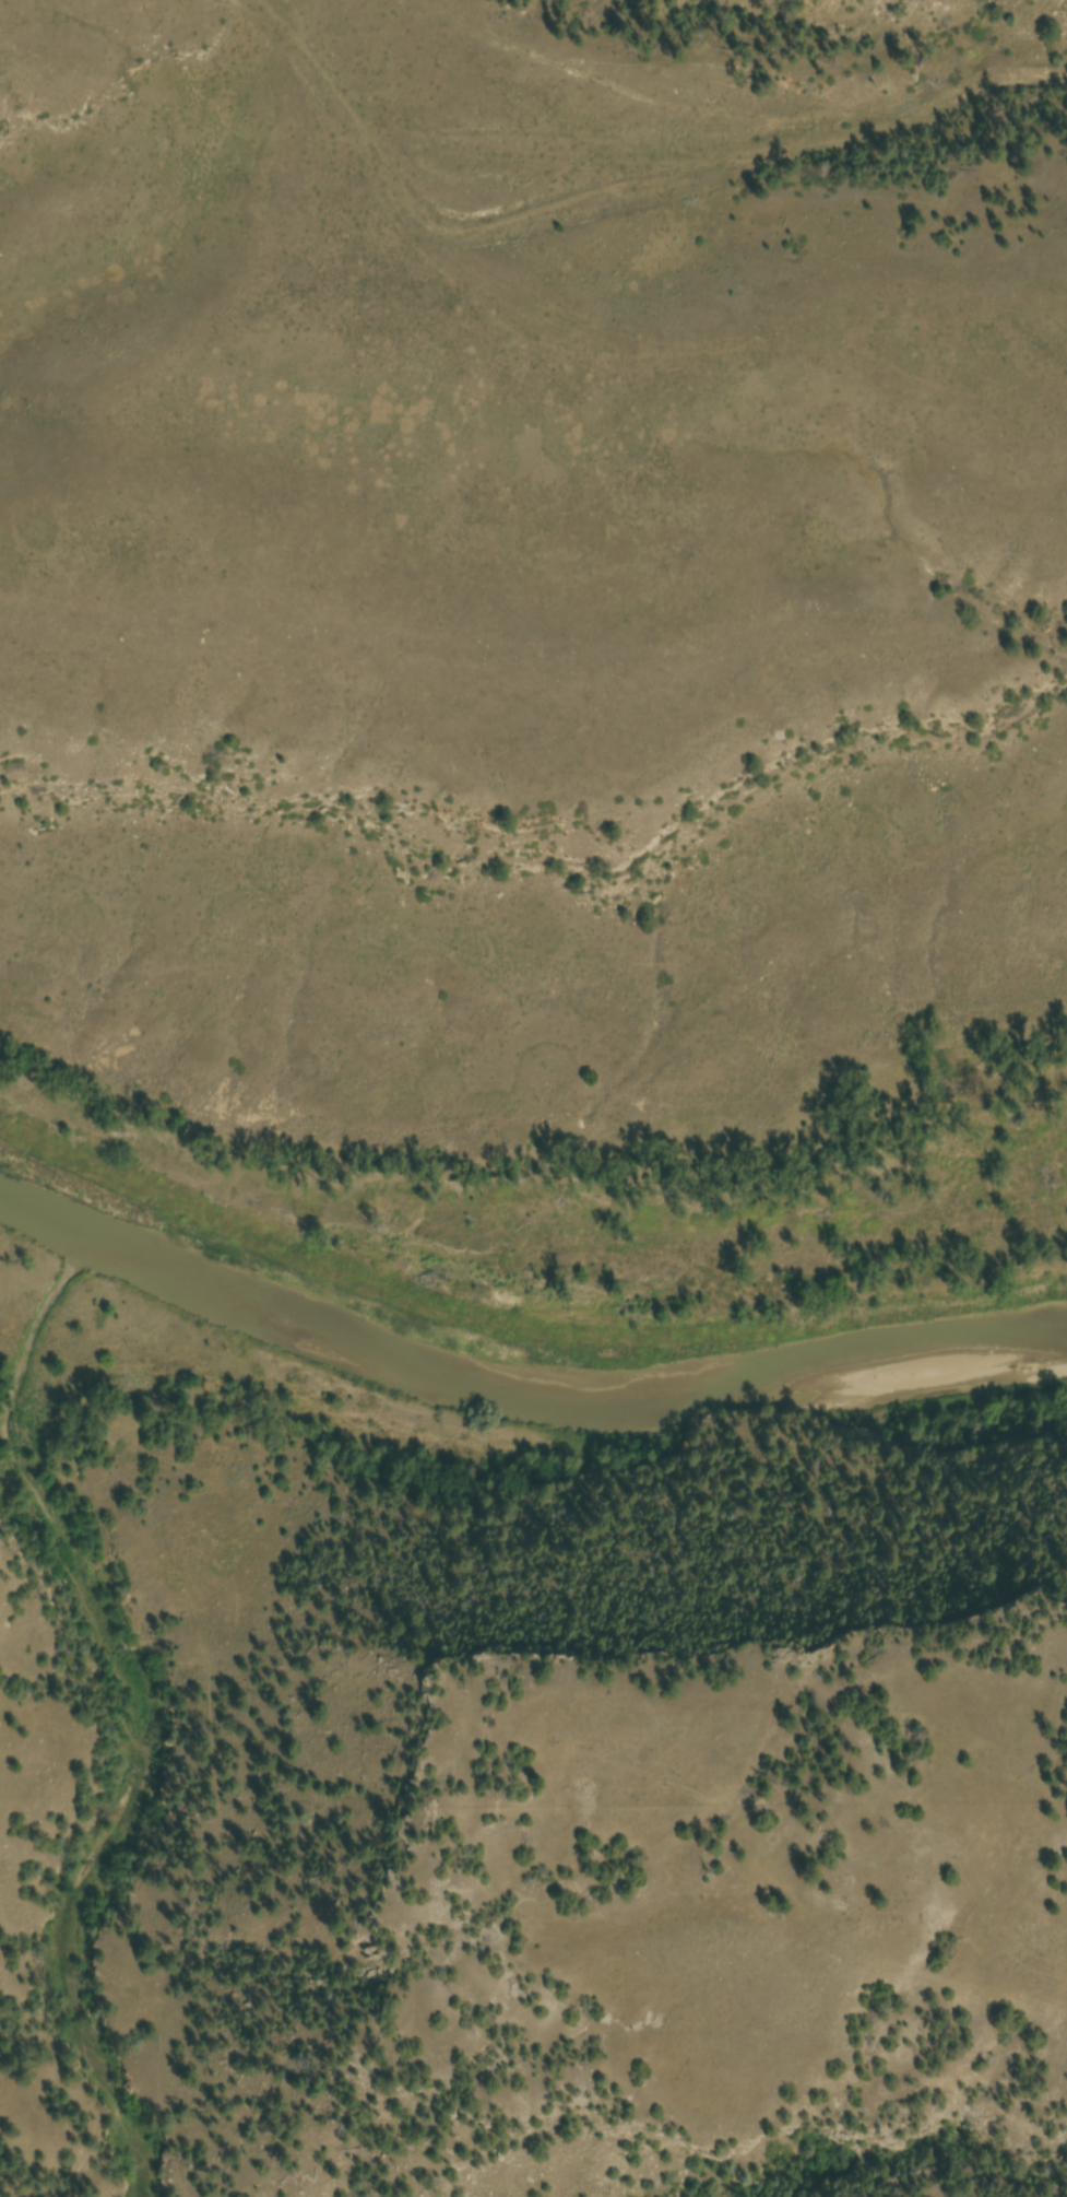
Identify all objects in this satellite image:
park: (541, 669)
river: (515, 1395)

